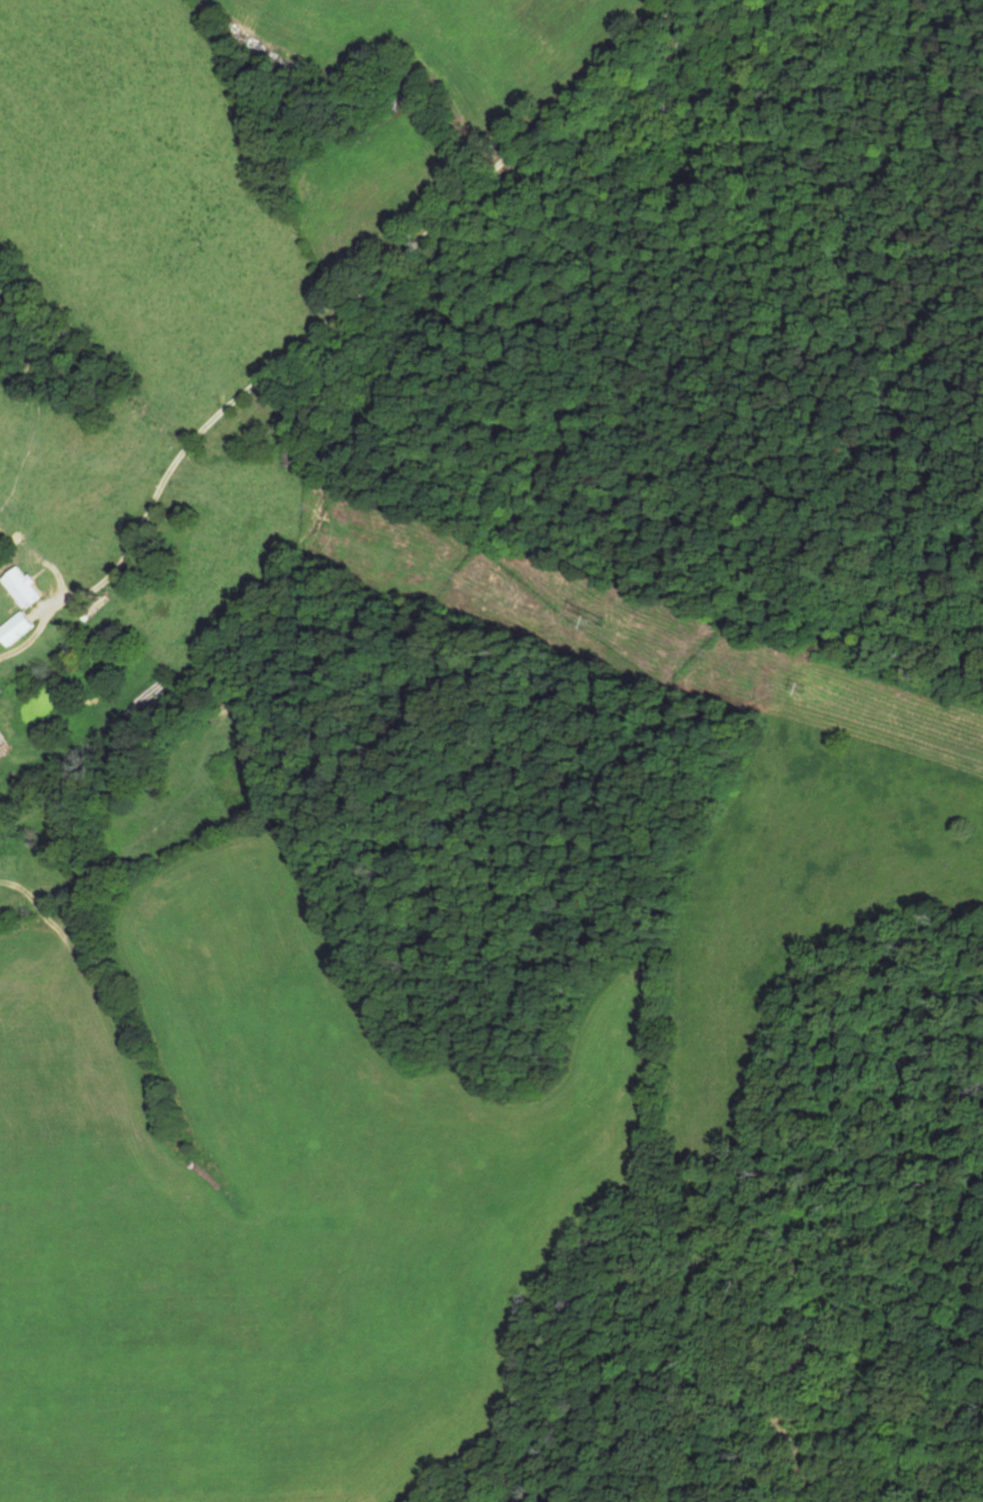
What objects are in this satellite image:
road: (374, 303)
building: (27, 586)
building: (19, 628)

